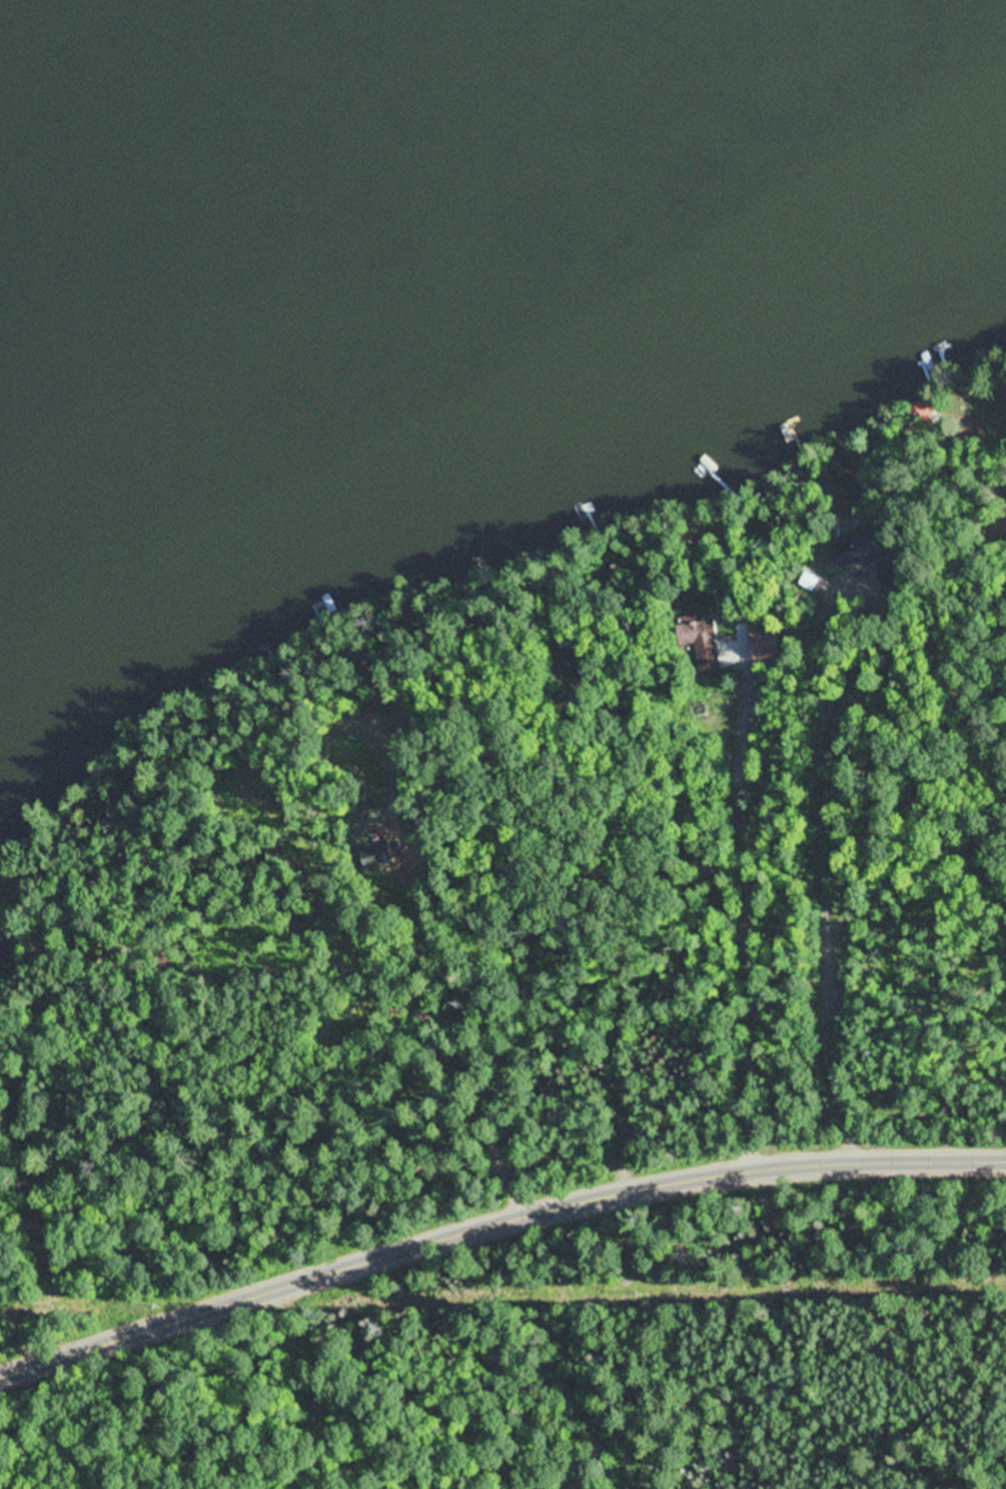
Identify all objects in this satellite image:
road: (957, 523)
road: (555, 621)
road: (358, 885)
road: (699, 885)
road: (618, 898)
road: (261, 1116)
road: (494, 1219)

